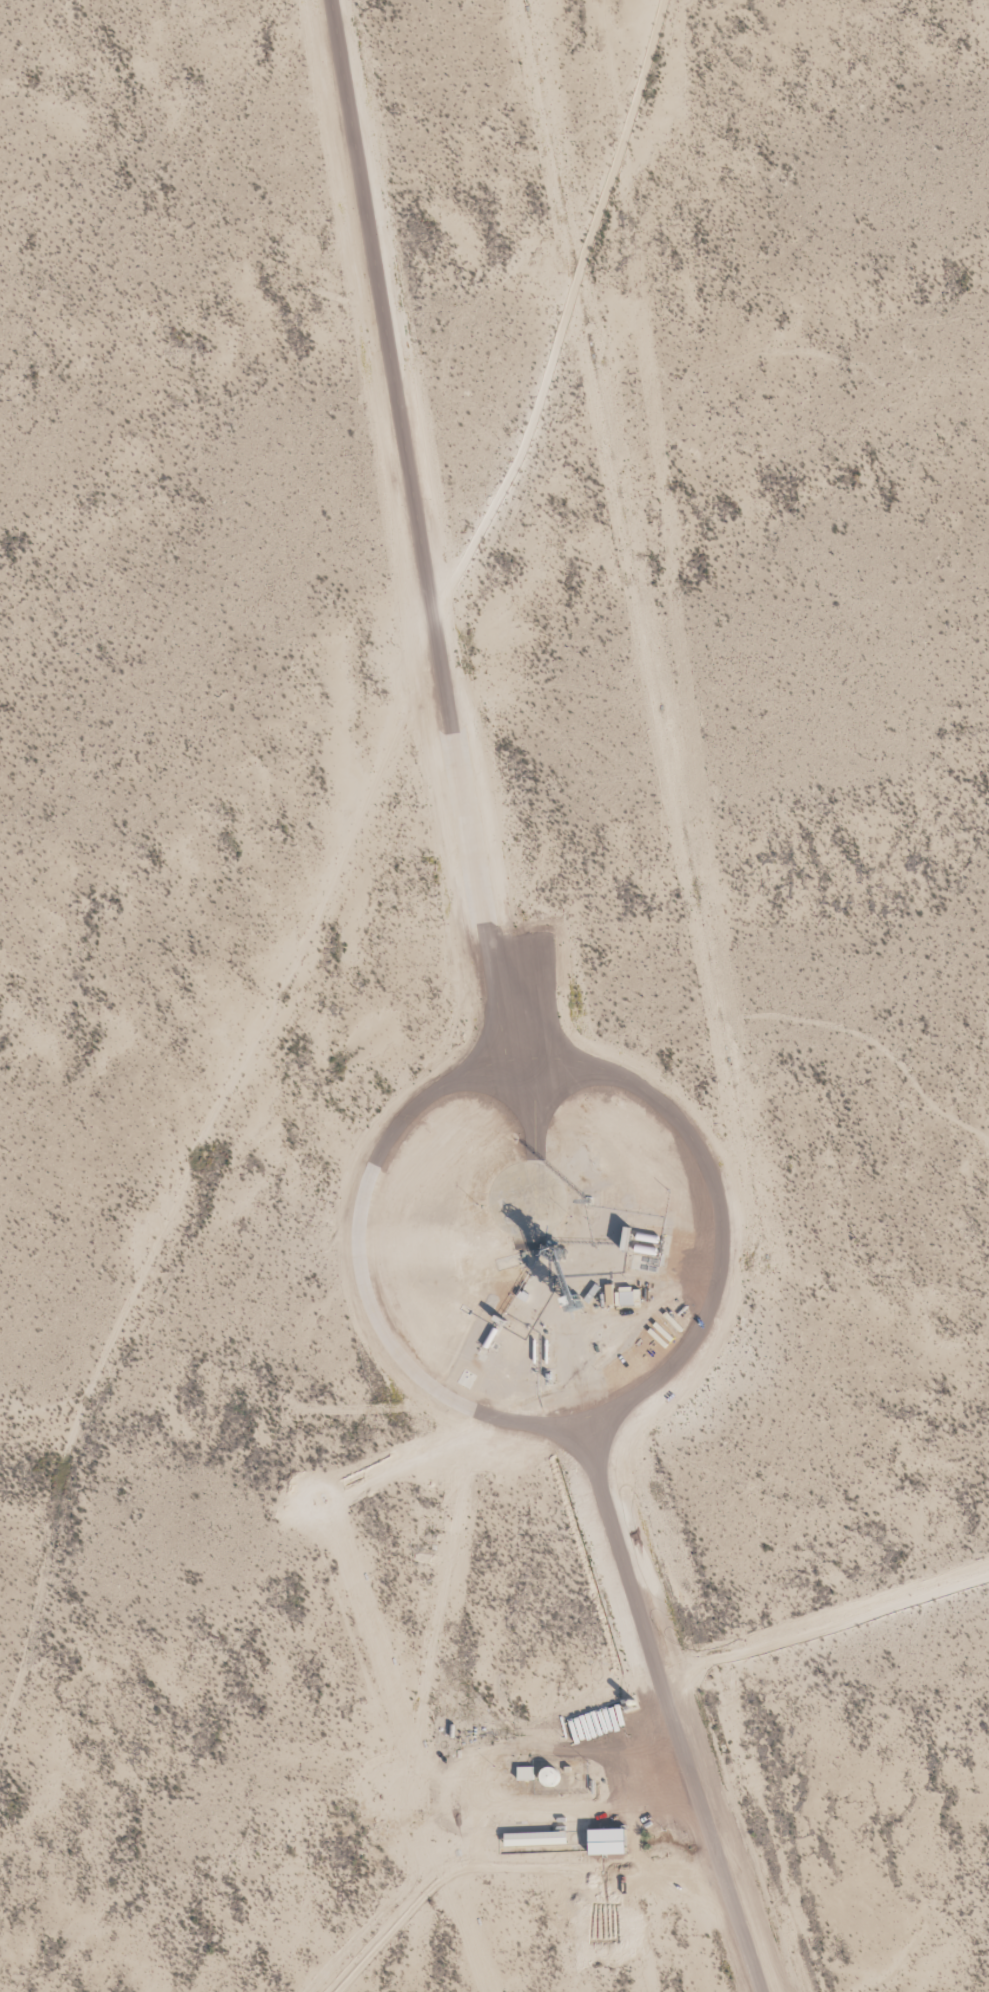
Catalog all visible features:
road: (313, 802)
road: (543, 1047)
building: (559, 1243)
building: (575, 1294)
building: (524, 1773)
building: (547, 1777)
building: (542, 1839)

